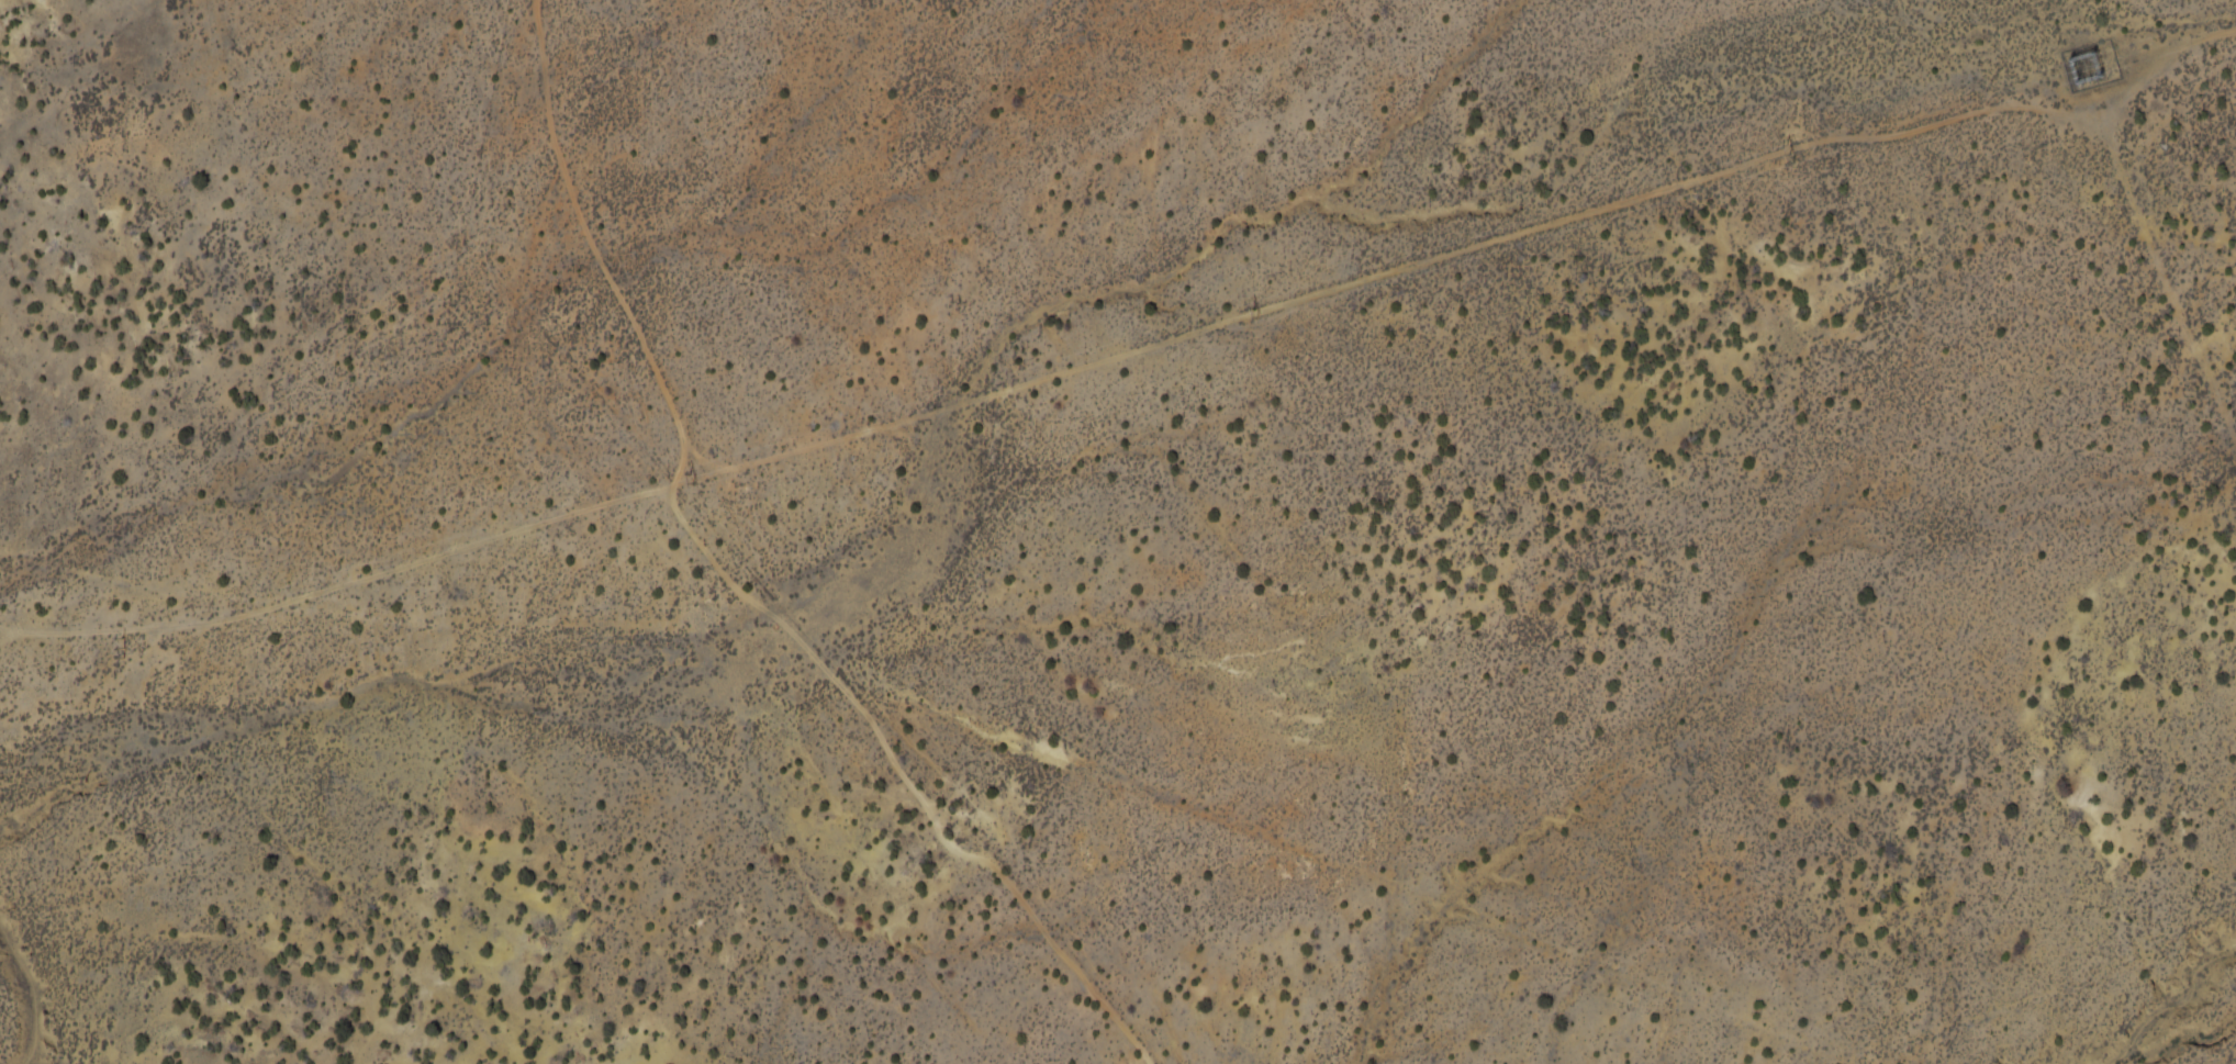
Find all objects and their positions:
power tower: (2088, 63)
power tower: (1788, 152)
power tower: (1255, 311)
power tower: (691, 479)
power tower: (121, 650)

